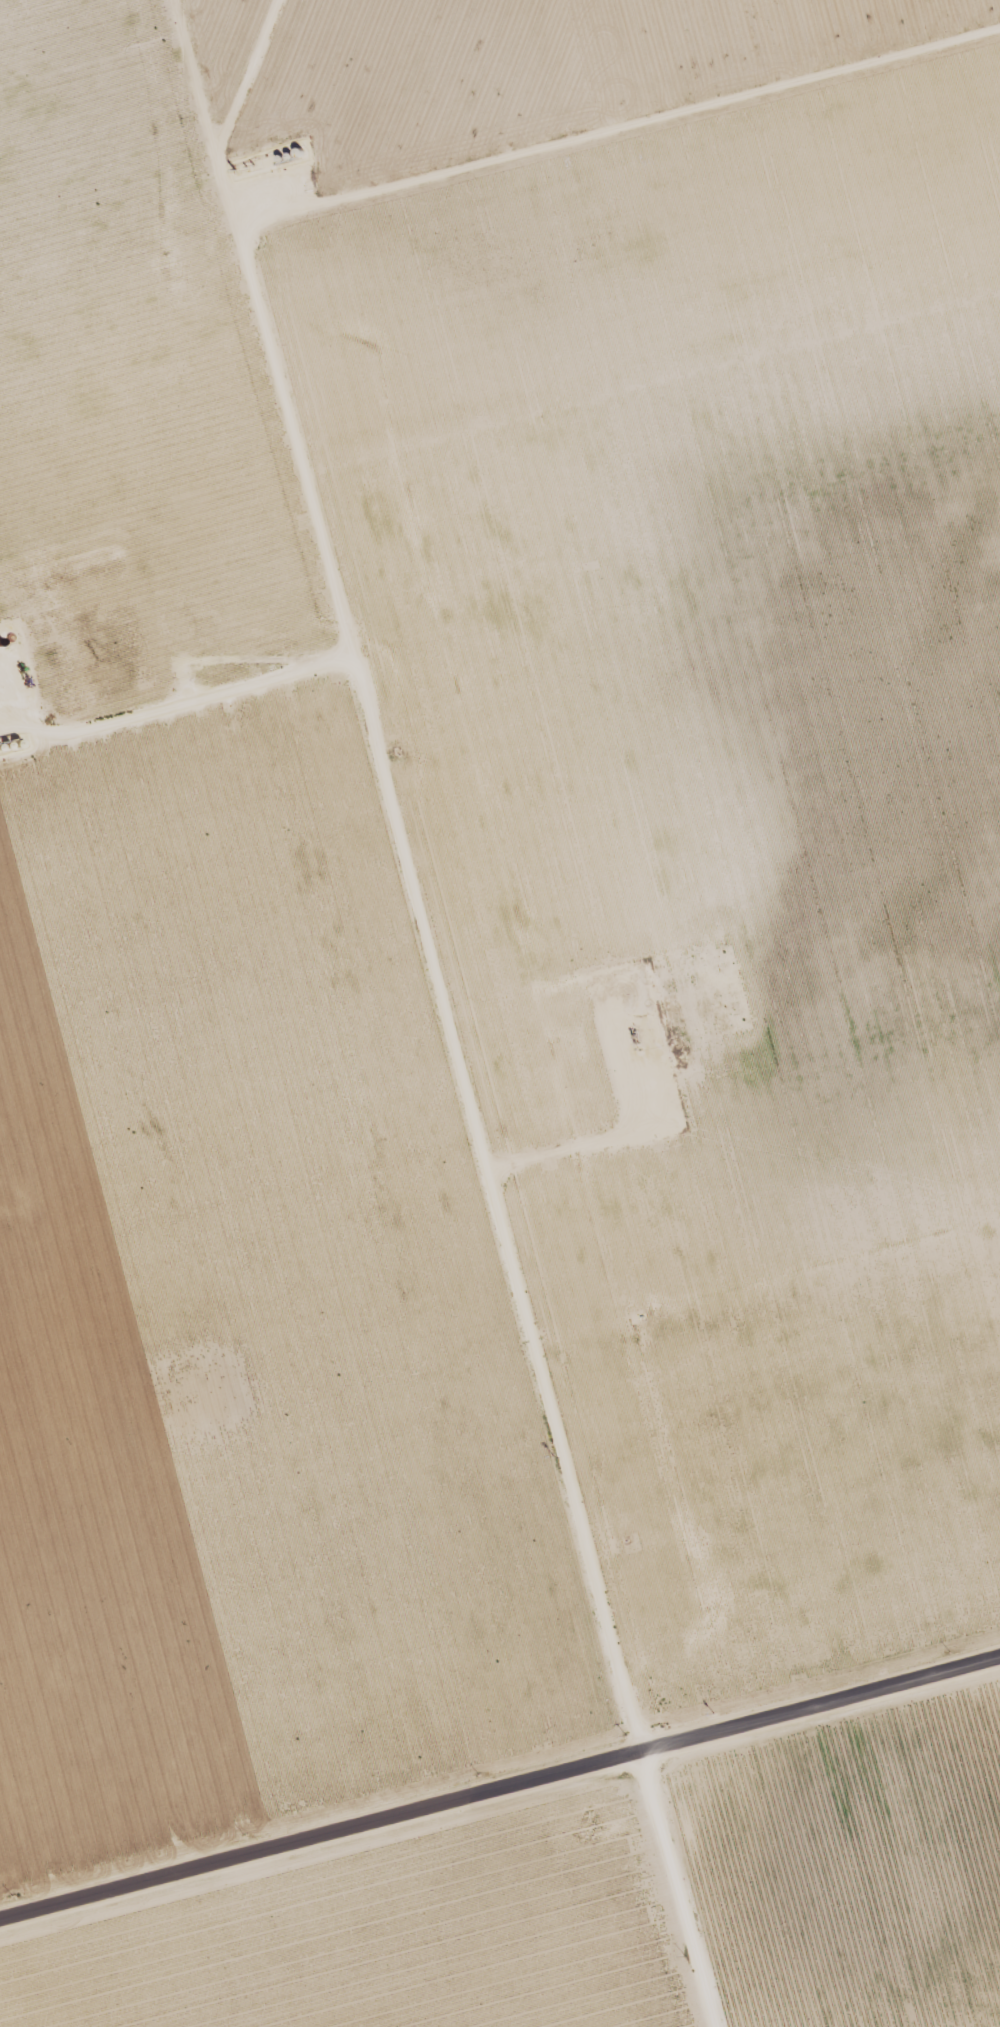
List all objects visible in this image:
road: (500, 1783)

